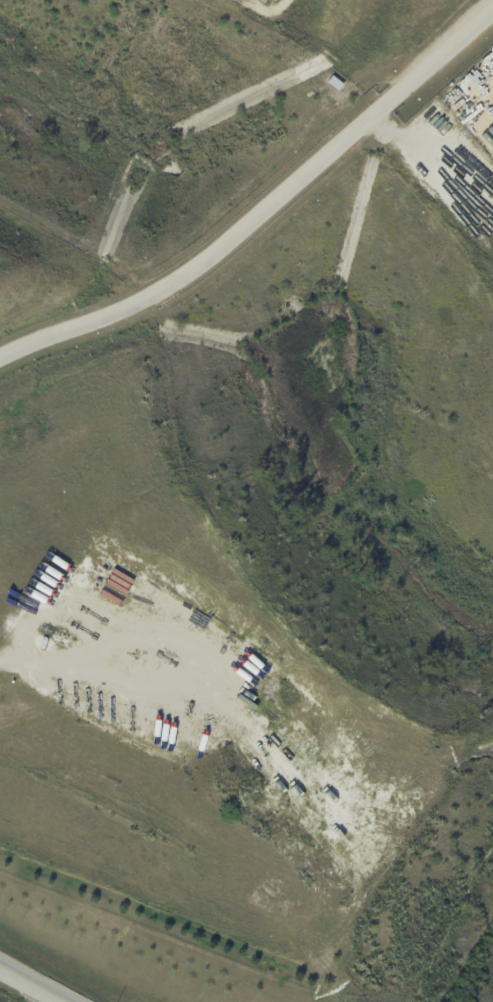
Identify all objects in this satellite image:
road: (263, 202)
road: (32, 983)

